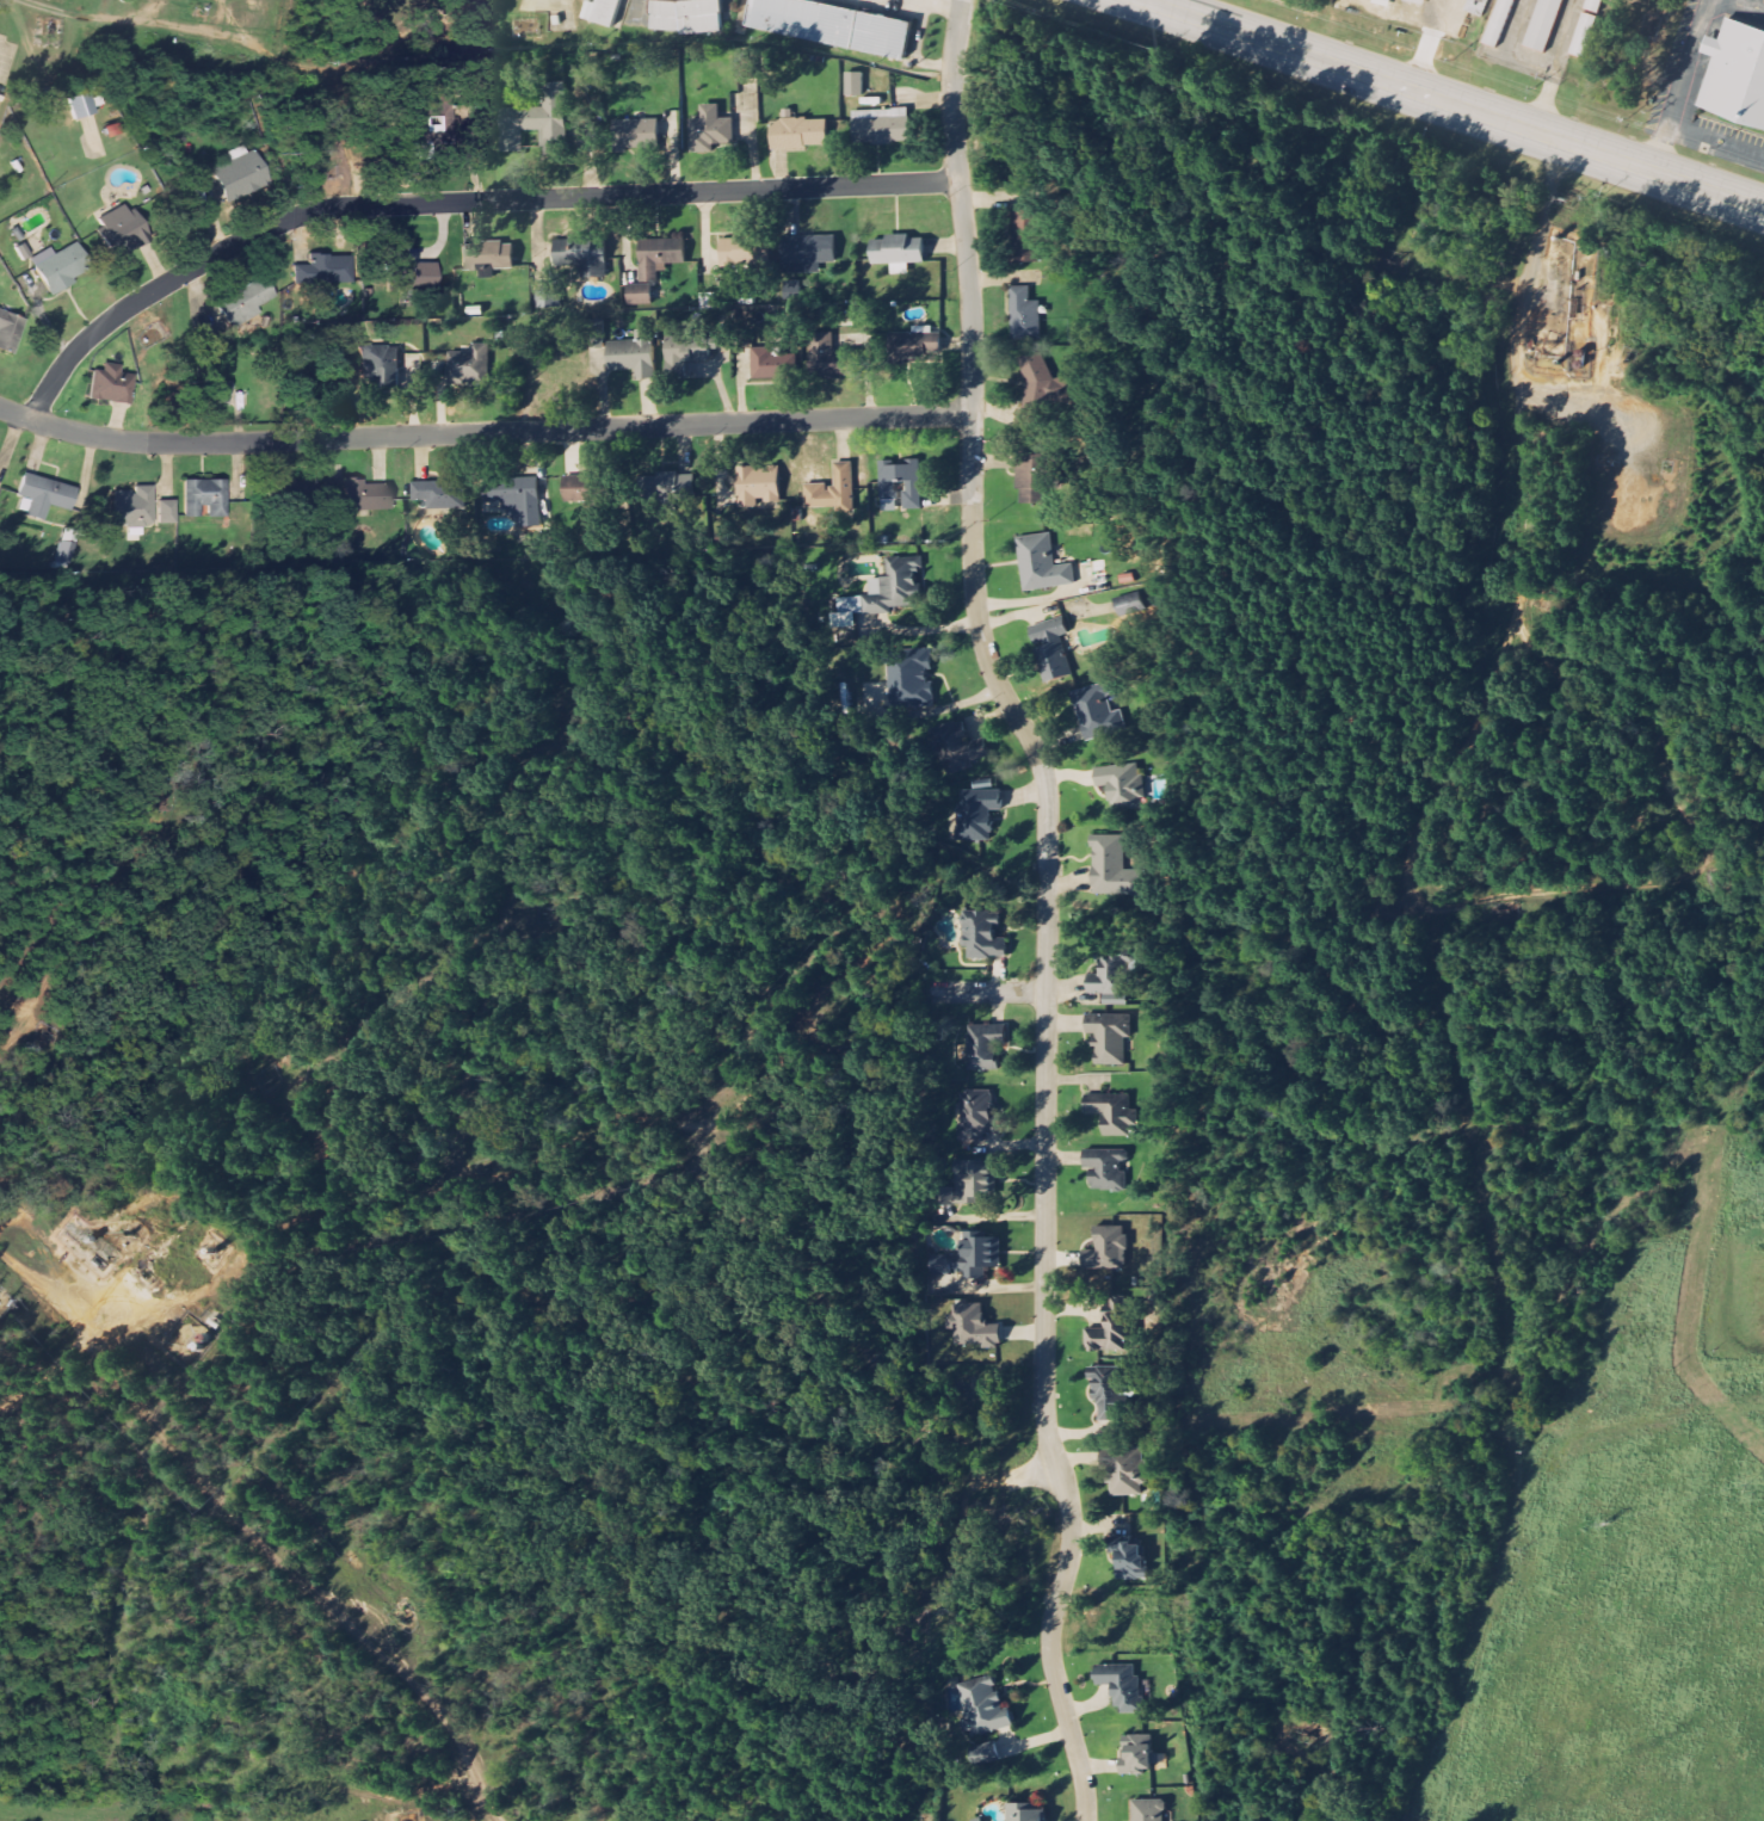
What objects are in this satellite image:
building: (1419, 1)
building: (1478, 4)
road: (557, 5)
building: (1592, 5)
road: (938, 6)
road: (1743, 7)
parking lot: (1747, 8)
building: (606, 12)
road: (69, 16)
building: (686, 16)
building: (1498, 21)
building: (1543, 24)
building: (831, 25)
building: (1584, 33)
road: (1562, 36)
parking lot: (1689, 53)
road: (1532, 66)
building: (1737, 72)
building: (855, 85)
road: (1683, 87)
building: (80, 104)
road: (1448, 105)
building: (431, 122)
building: (533, 126)
building: (881, 126)
building: (710, 131)
building: (635, 134)
building: (798, 134)
parking lot: (1706, 136)
road: (1716, 143)
building: (238, 177)
road: (455, 200)
building: (118, 229)
building: (1023, 236)
building: (898, 249)
building: (739, 251)
building: (807, 253)
building: (581, 254)
building: (488, 258)
road: (1531, 266)
building: (56, 270)
building: (322, 270)
building: (397, 271)
building: (648, 274)
building: (548, 296)
building: (243, 302)
building: (1022, 314)
building: (8, 331)
building: (598, 335)
building: (914, 345)
building: (634, 354)
building: (684, 354)
building: (832, 359)
building: (378, 364)
building: (769, 364)
building: (468, 368)
building: (110, 385)
building: (1038, 385)
building: (215, 394)
road: (1585, 413)
road: (482, 433)
building: (900, 476)
building: (1031, 479)
building: (676, 486)
building: (761, 487)
building: (580, 488)
building: (834, 488)
building: (511, 490)
building: (288, 492)
building: (439, 493)
building: (43, 494)
building: (364, 494)
building: (203, 498)
road: (1526, 500)
building: (132, 506)
building: (165, 512)
building: (66, 555)
building: (1046, 564)
building: (886, 591)
building: (1125, 604)
building: (1051, 648)
building: (909, 677)
building: (1097, 710)
road: (1616, 735)
building: (958, 747)
building: (1121, 785)
building: (976, 813)
building: (1110, 868)
road: (1444, 902)
road: (1046, 907)
building: (983, 936)
road: (82, 945)
building: (1111, 975)
road: (987, 993)
building: (1108, 1037)
building: (985, 1045)
building: (1111, 1112)
building: (977, 1115)
building: (1105, 1168)
building: (972, 1181)
road: (428, 1197)
building: (1108, 1248)
building: (969, 1257)
building: (973, 1326)
building: (1115, 1327)
building: (1109, 1393)
building: (1124, 1471)
road: (1515, 1527)
road: (249, 1531)
building: (1129, 1557)
building: (1121, 1684)
building: (983, 1705)
building: (985, 1753)
building: (1139, 1753)
road: (403, 1798)
building: (1148, 1810)
building: (1025, 1811)

